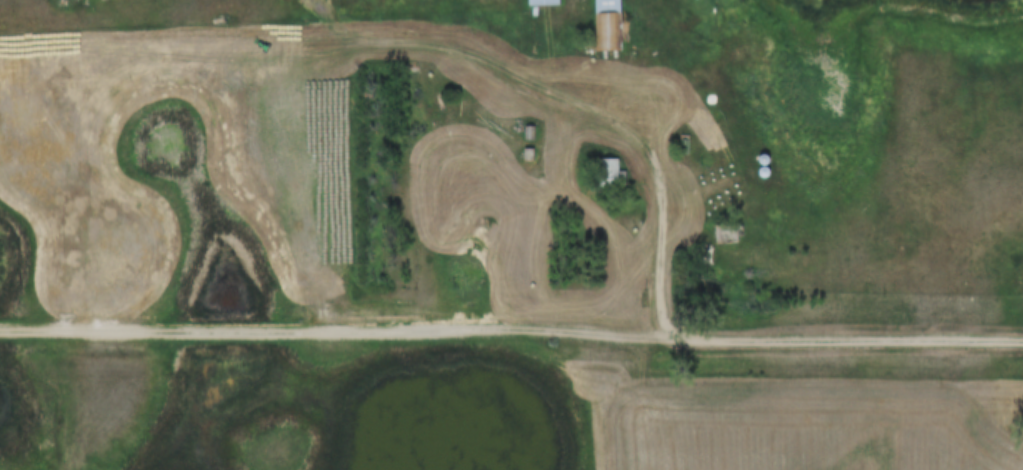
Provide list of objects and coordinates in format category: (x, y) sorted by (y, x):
building: (538, 2)
building: (603, 25)
building: (606, 171)
road: (666, 198)
building: (726, 234)
road: (336, 329)
road: (847, 339)

